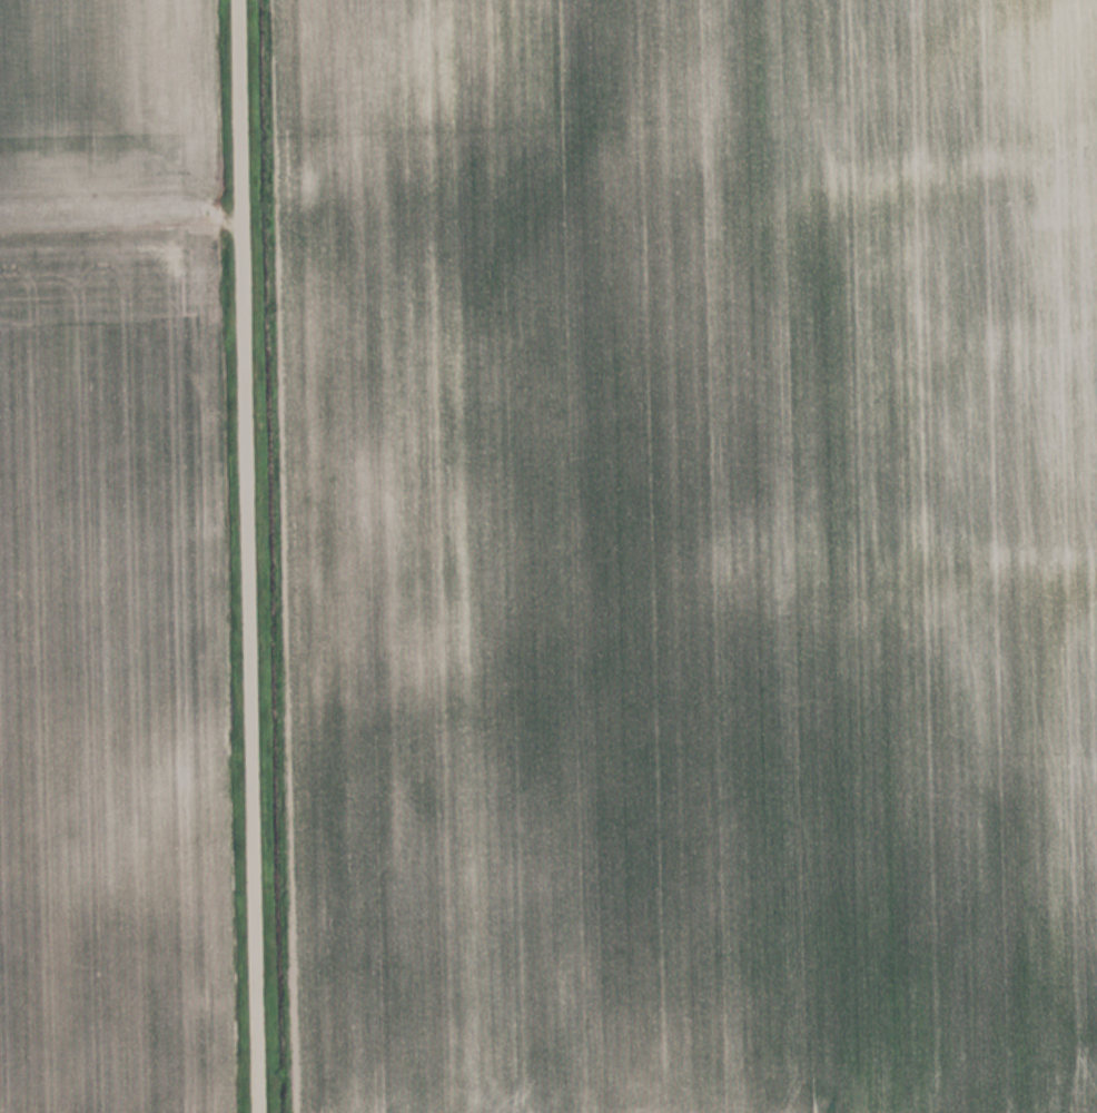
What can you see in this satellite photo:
road: (268, 555)

